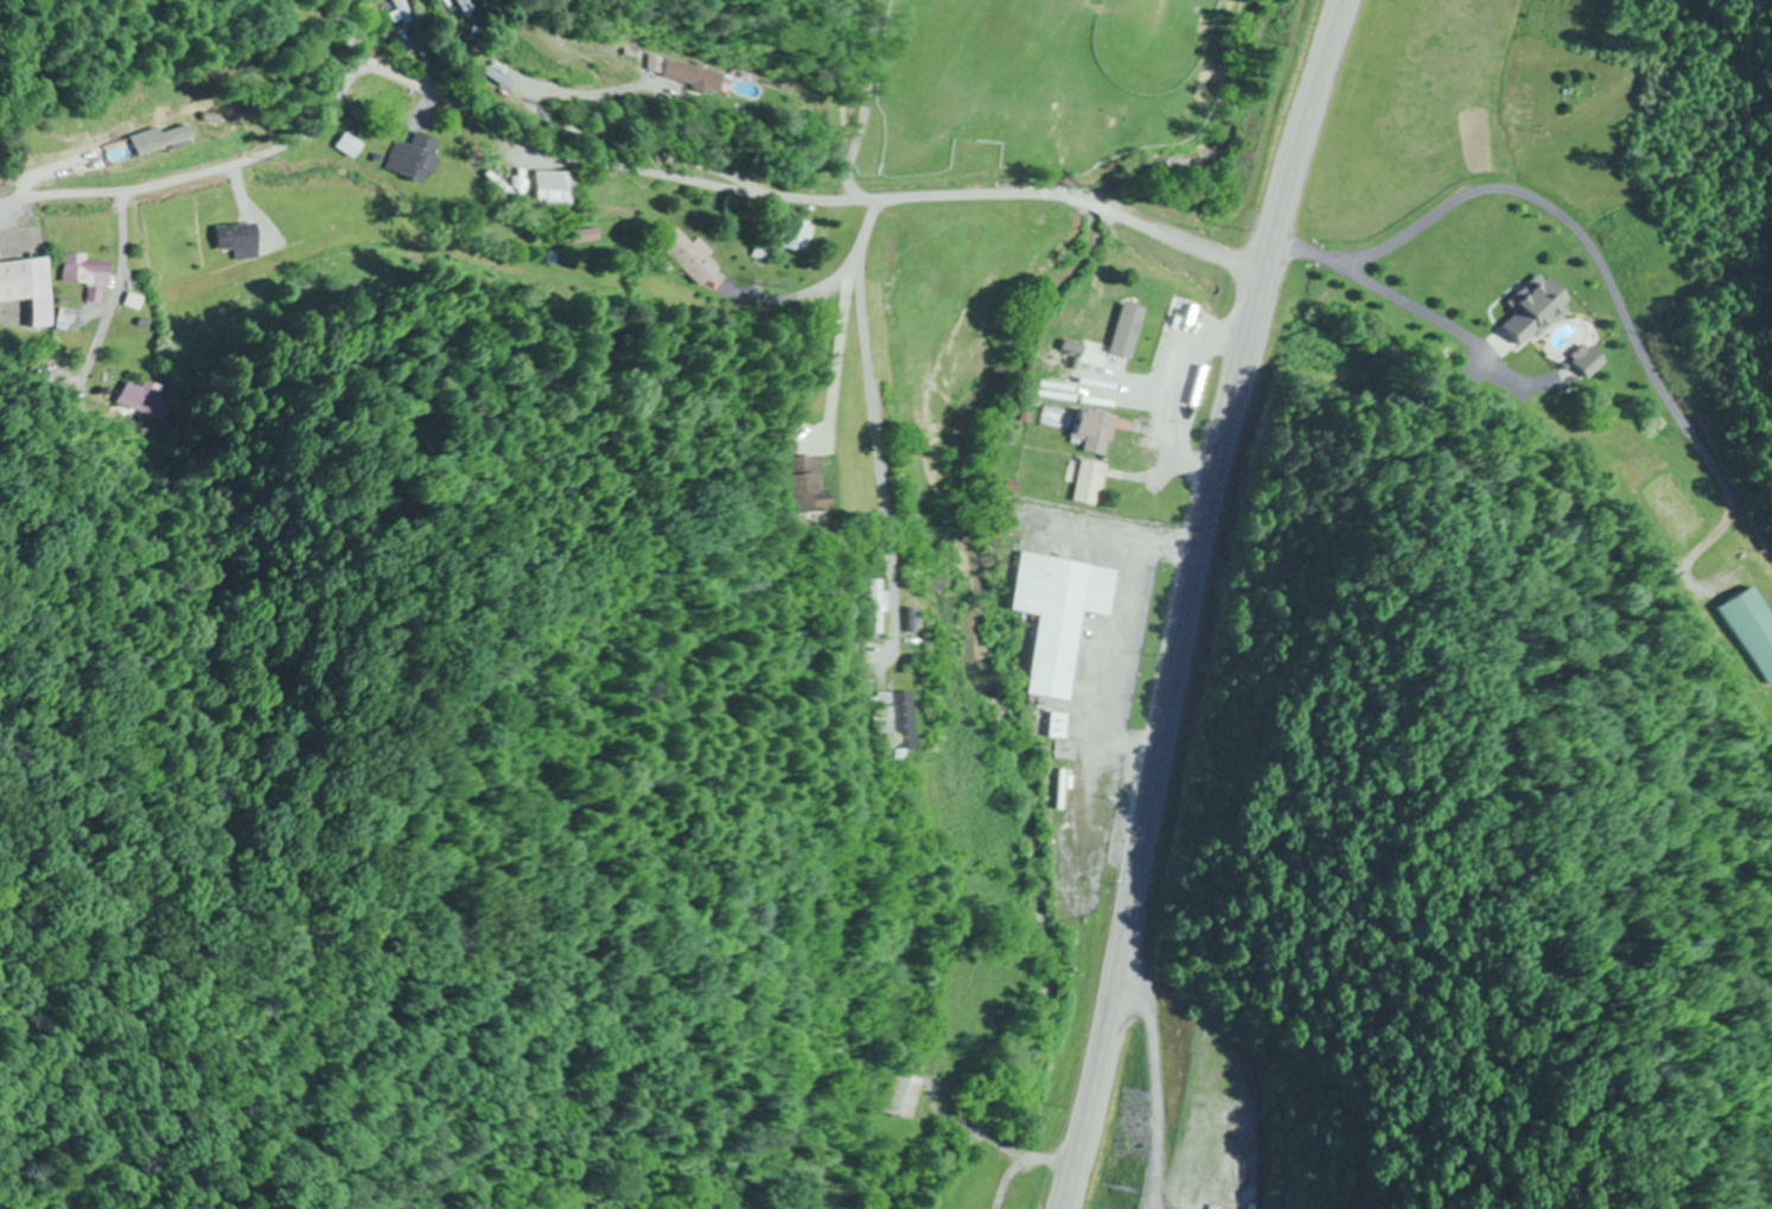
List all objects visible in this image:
building: (401, 11)
road: (349, 36)
building: (694, 76)
road: (1496, 101)
building: (350, 147)
building: (412, 159)
road: (608, 171)
building: (547, 190)
building: (784, 233)
building: (235, 240)
building: (681, 256)
road: (1576, 267)
building: (82, 275)
building: (25, 287)
building: (1538, 308)
building: (1117, 333)
building: (1589, 361)
building: (1082, 382)
building: (140, 401)
road: (873, 414)
building: (1094, 432)
building: (1088, 483)
building: (808, 485)
road: (1201, 559)
building: (875, 607)
building: (1056, 615)
building: (1752, 630)
building: (892, 720)
building: (1053, 726)
building: (903, 1096)
road: (1066, 1165)

